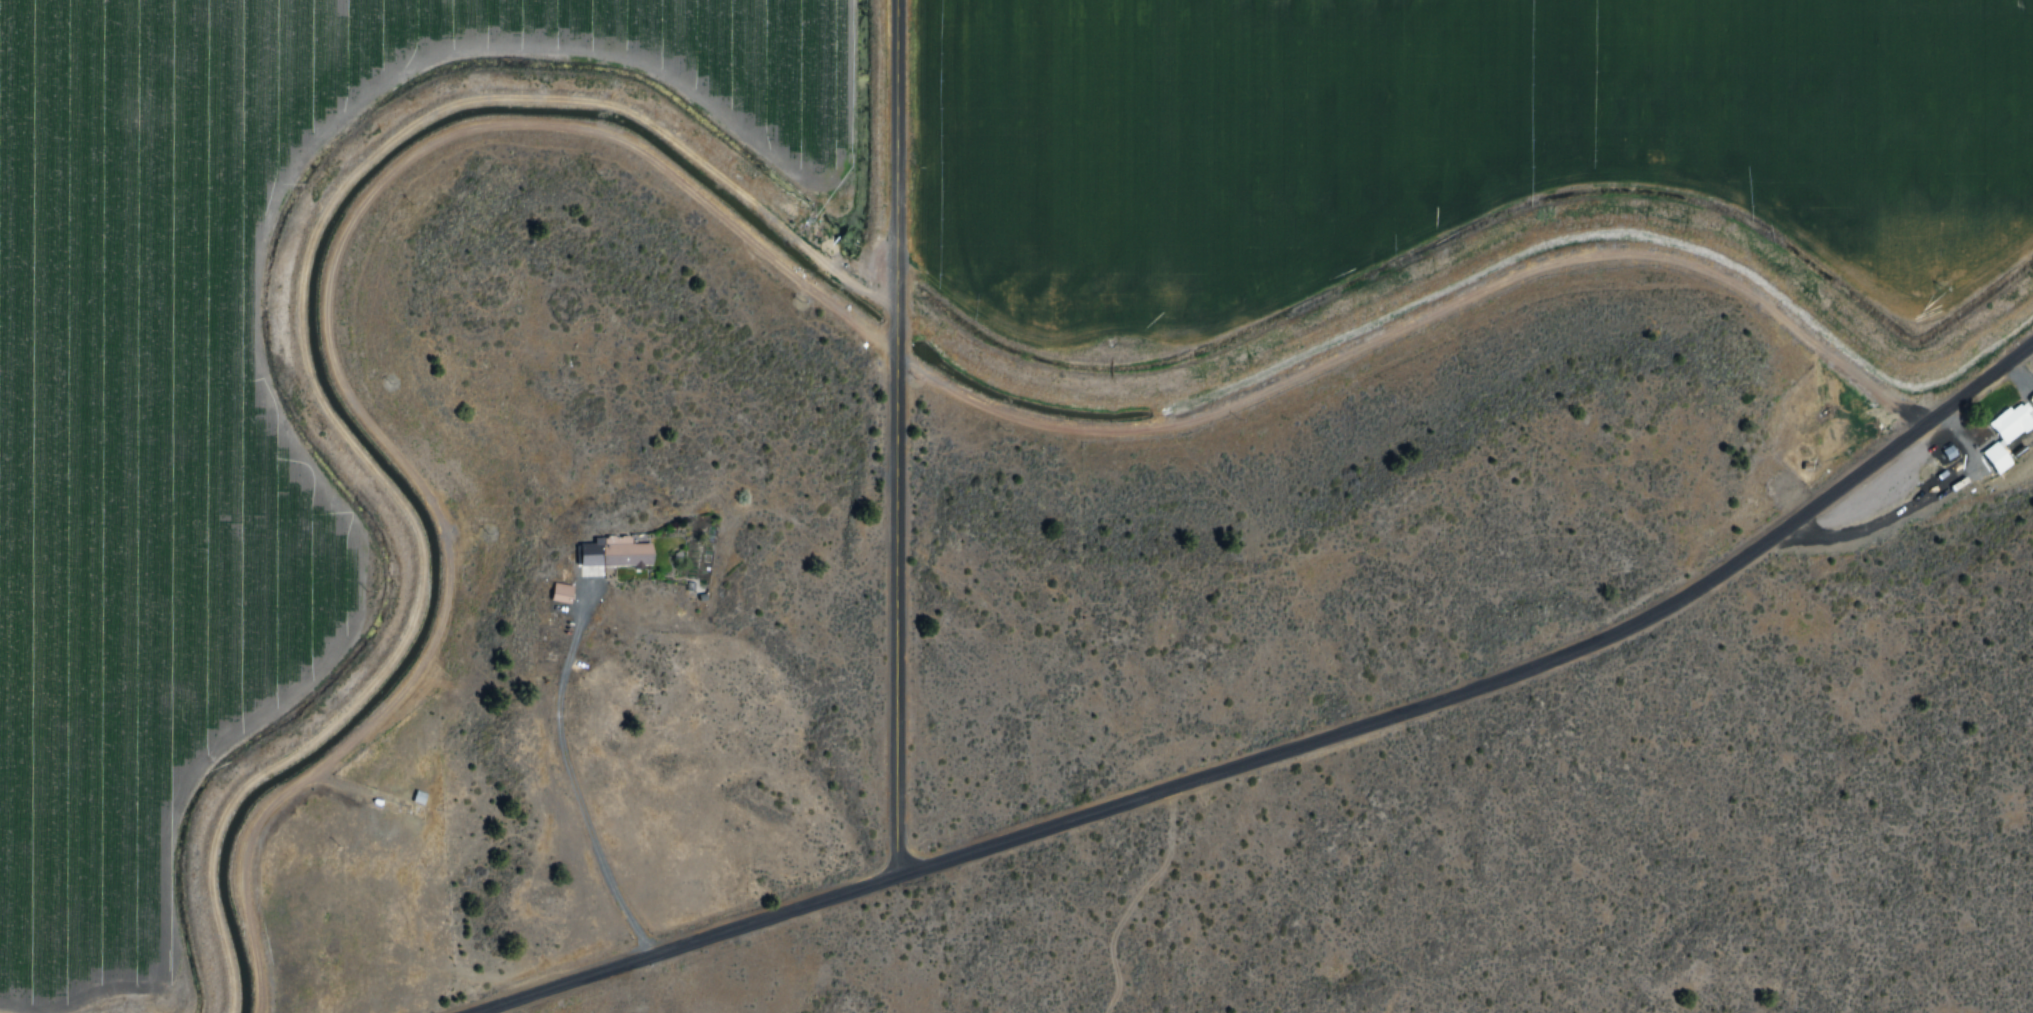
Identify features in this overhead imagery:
crop: (1442, 141)
crop: (220, 400)
building: (2009, 422)
road: (899, 437)
building: (1947, 452)
building: (616, 555)
building: (554, 592)
building: (563, 592)
road: (1291, 751)
road: (572, 782)
road: (1142, 901)

